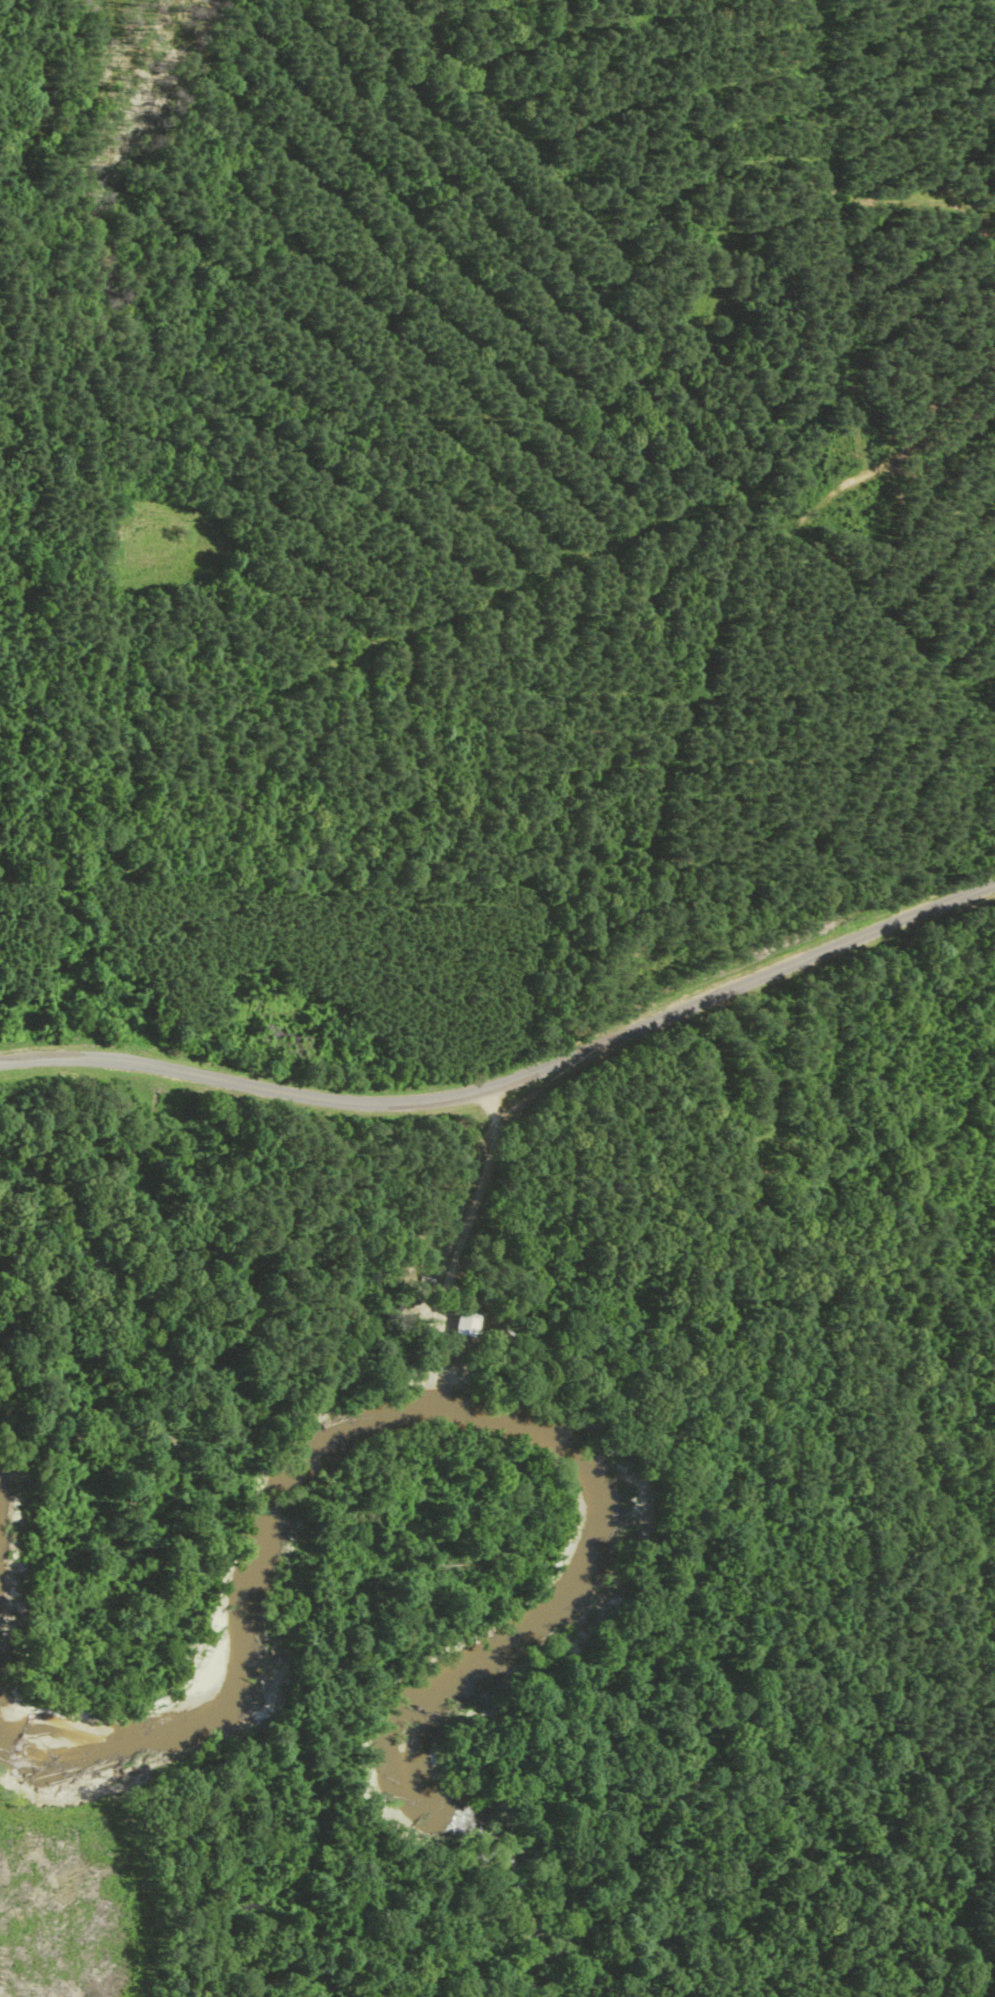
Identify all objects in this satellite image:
road: (512, 1082)
river: (529, 1424)

